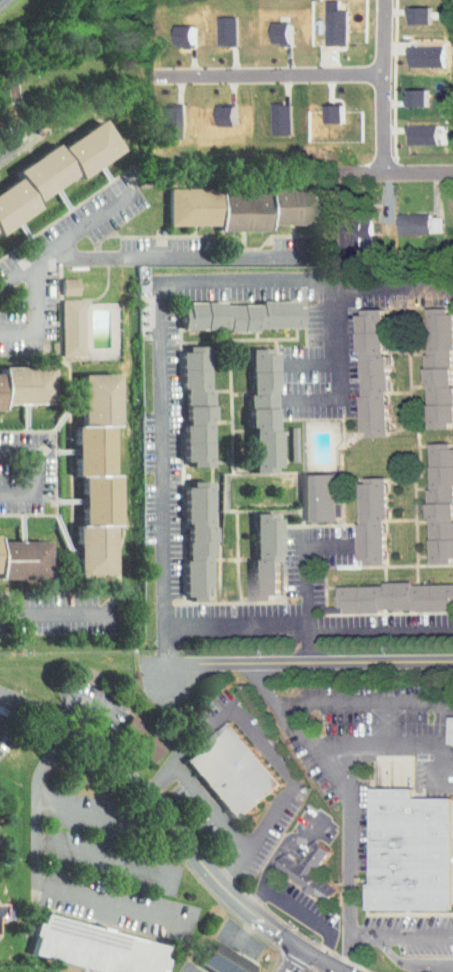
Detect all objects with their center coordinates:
building: (403, 9)
building: (323, 21)
building: (214, 25)
building: (270, 27)
building: (171, 29)
building: (410, 50)
road: (267, 71)
road: (383, 87)
building: (403, 91)
building: (320, 107)
building: (211, 110)
building: (266, 113)
building: (158, 116)
building: (408, 128)
road: (10, 146)
building: (46, 160)
road: (400, 173)
building: (227, 202)
building: (373, 209)
building: (449, 217)
building: (400, 218)
building: (340, 228)
road: (178, 258)
road: (44, 260)
road: (19, 279)
building: (58, 280)
building: (246, 314)
building: (61, 321)
road: (164, 330)
building: (427, 362)
road: (309, 363)
building: (441, 366)
building: (359, 367)
road: (333, 368)
building: (376, 372)
building: (18, 379)
building: (182, 400)
building: (249, 404)
building: (199, 405)
building: (266, 409)
building: (81, 470)
road: (34, 471)
building: (306, 492)
building: (323, 497)
building: (429, 497)
building: (443, 501)
building: (359, 514)
building: (375, 519)
building: (184, 536)
building: (200, 541)
building: (251, 550)
building: (16, 554)
building: (268, 555)
road: (307, 580)
building: (396, 596)
road: (54, 613)
road: (310, 628)
road: (310, 661)
road: (81, 695)
road: (19, 702)
road: (327, 702)
road: (6, 711)
building: (374, 716)
building: (445, 724)
building: (130, 732)
road: (387, 746)
road: (262, 747)
building: (233, 773)
road: (209, 805)
road: (93, 810)
road: (347, 835)
road: (187, 843)
building: (408, 850)
road: (108, 858)
road: (119, 858)
building: (308, 872)
road: (36, 876)
road: (300, 909)
road: (400, 932)
building: (97, 947)
building: (224, 960)
road: (288, 960)
road: (406, 962)

